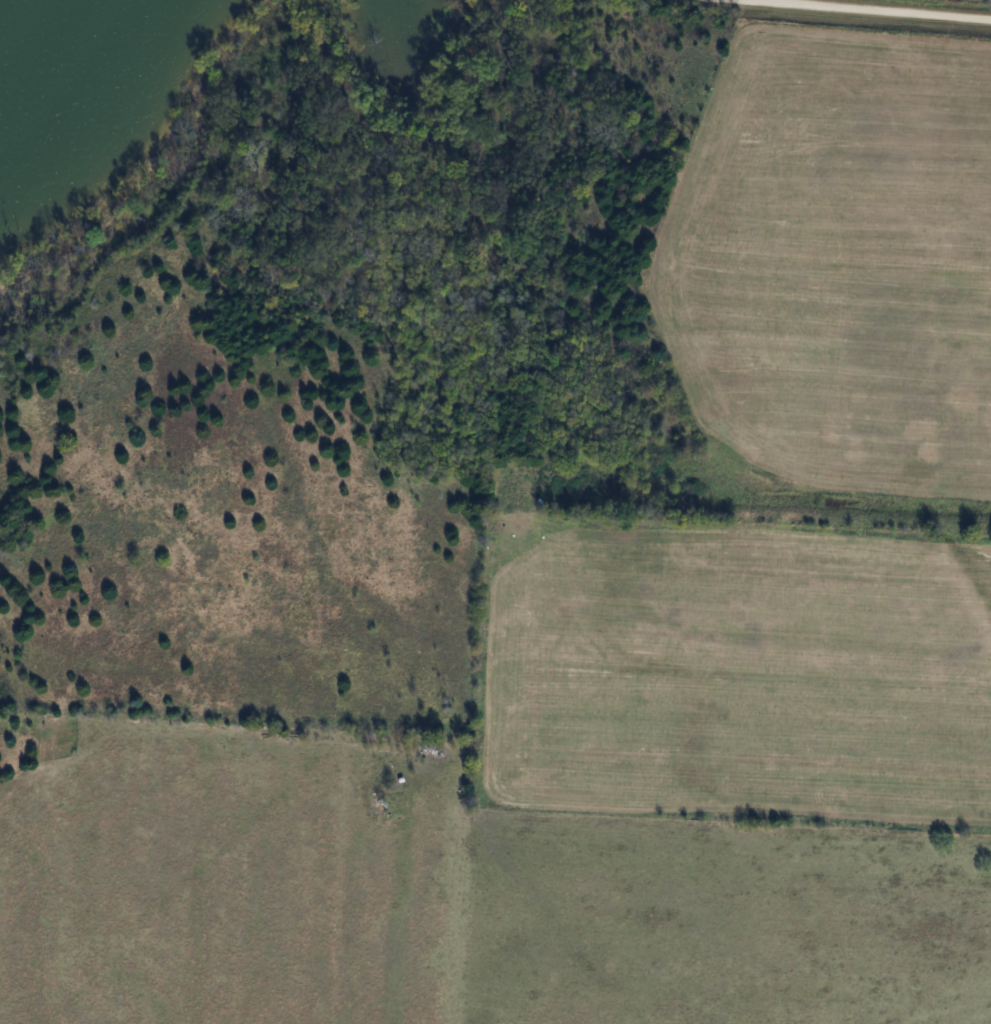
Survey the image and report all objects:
road: (871, 9)

